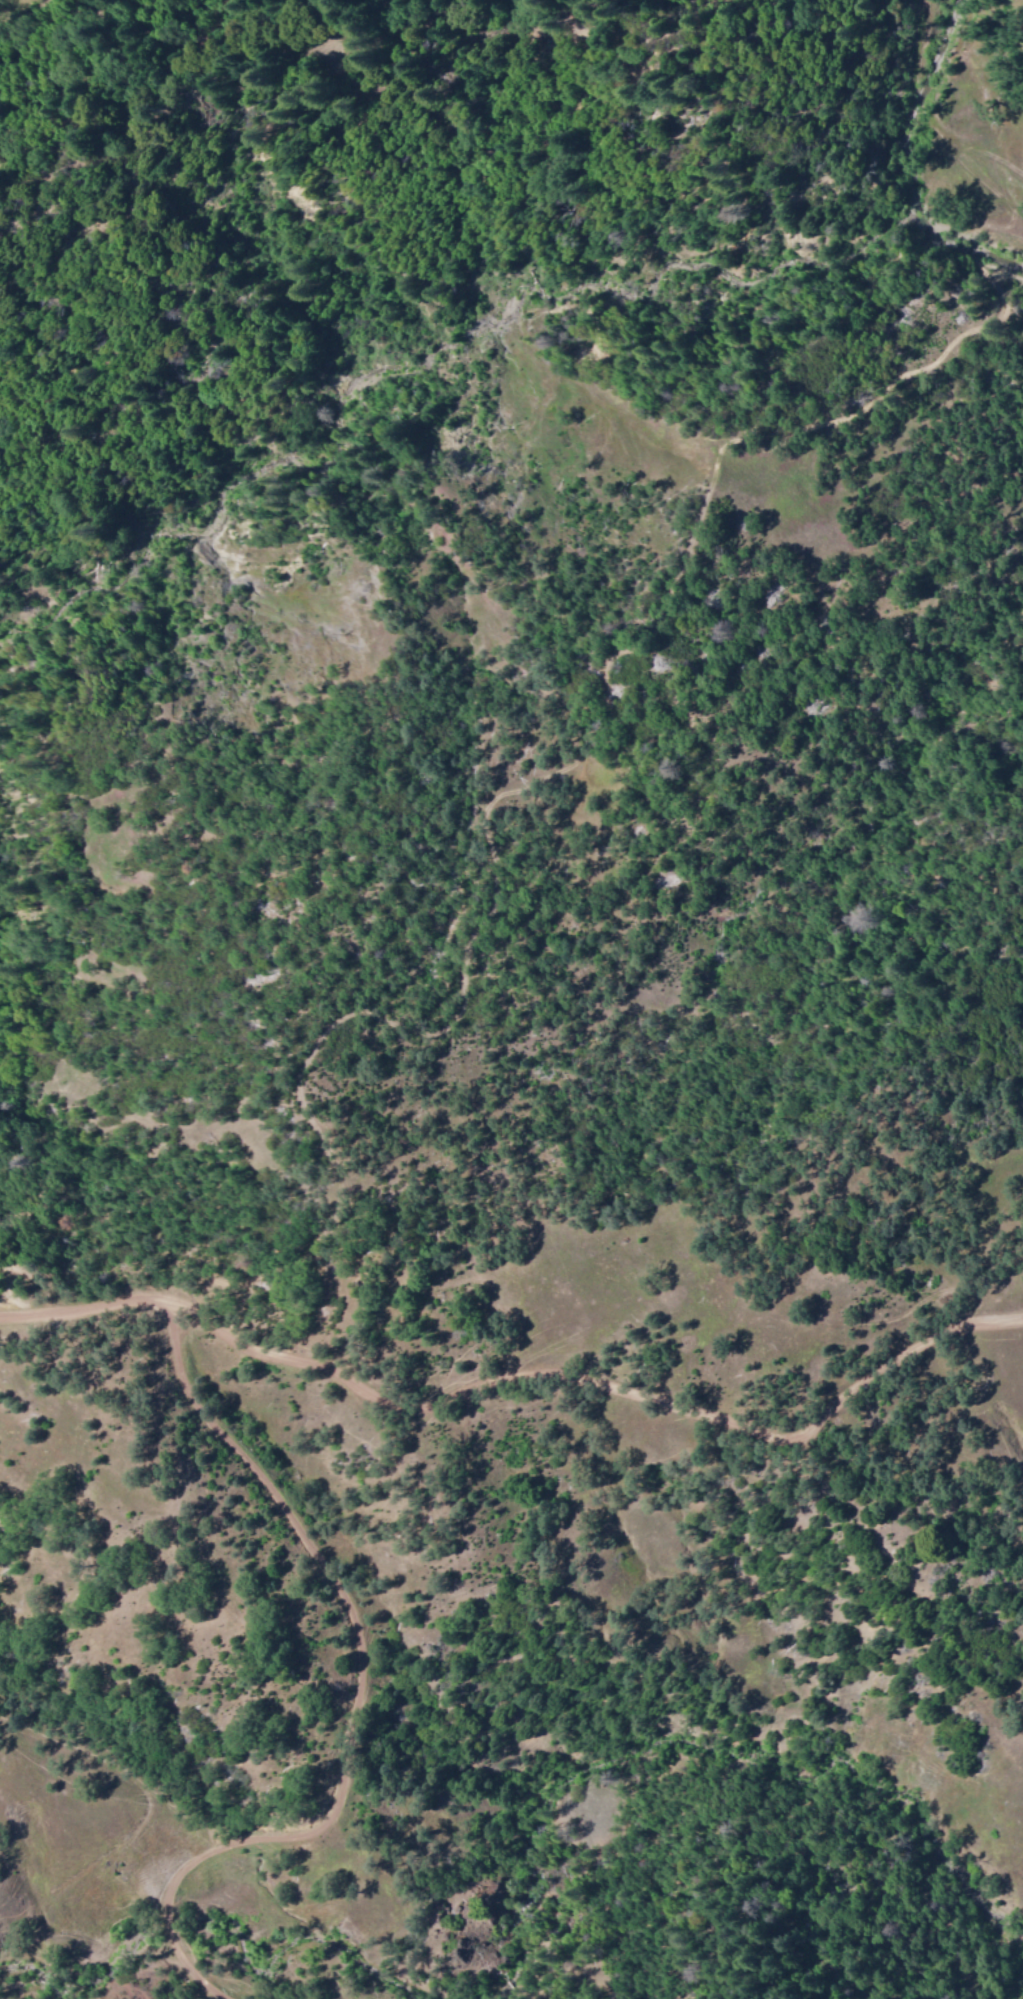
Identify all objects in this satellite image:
road: (15, 11)
road: (923, 39)
road: (955, 148)
road: (512, 1383)

